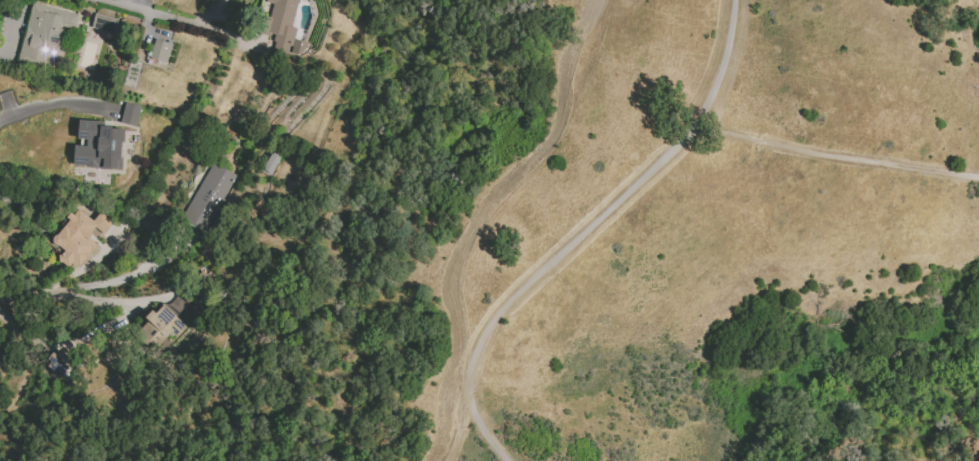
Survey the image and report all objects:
road: (174, 17)
building: (103, 23)
building: (283, 25)
building: (44, 32)
building: (160, 50)
road: (55, 101)
building: (129, 114)
road: (701, 133)
building: (98, 145)
road: (836, 155)
building: (270, 164)
building: (208, 200)
road: (589, 233)
building: (77, 236)
road: (88, 286)
road: (107, 326)
building: (169, 326)
building: (58, 363)
road: (457, 430)

